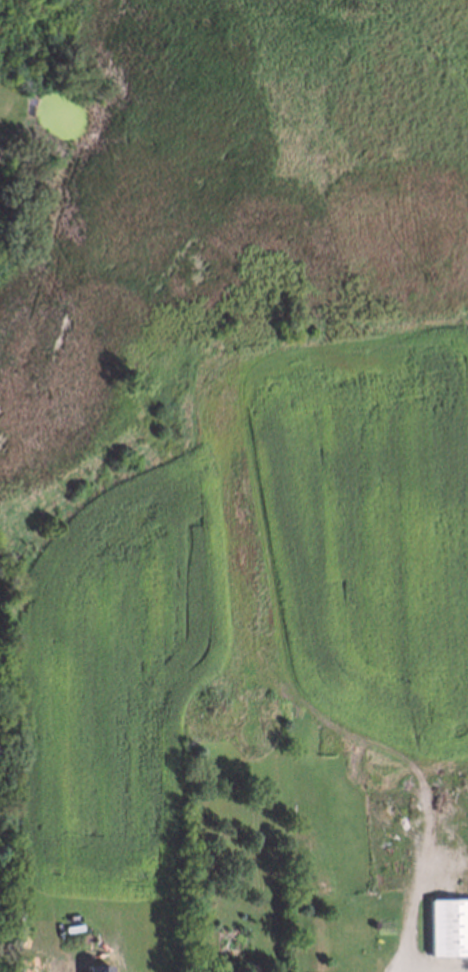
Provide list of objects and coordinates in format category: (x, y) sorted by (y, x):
building: (449, 928)
road: (405, 969)

